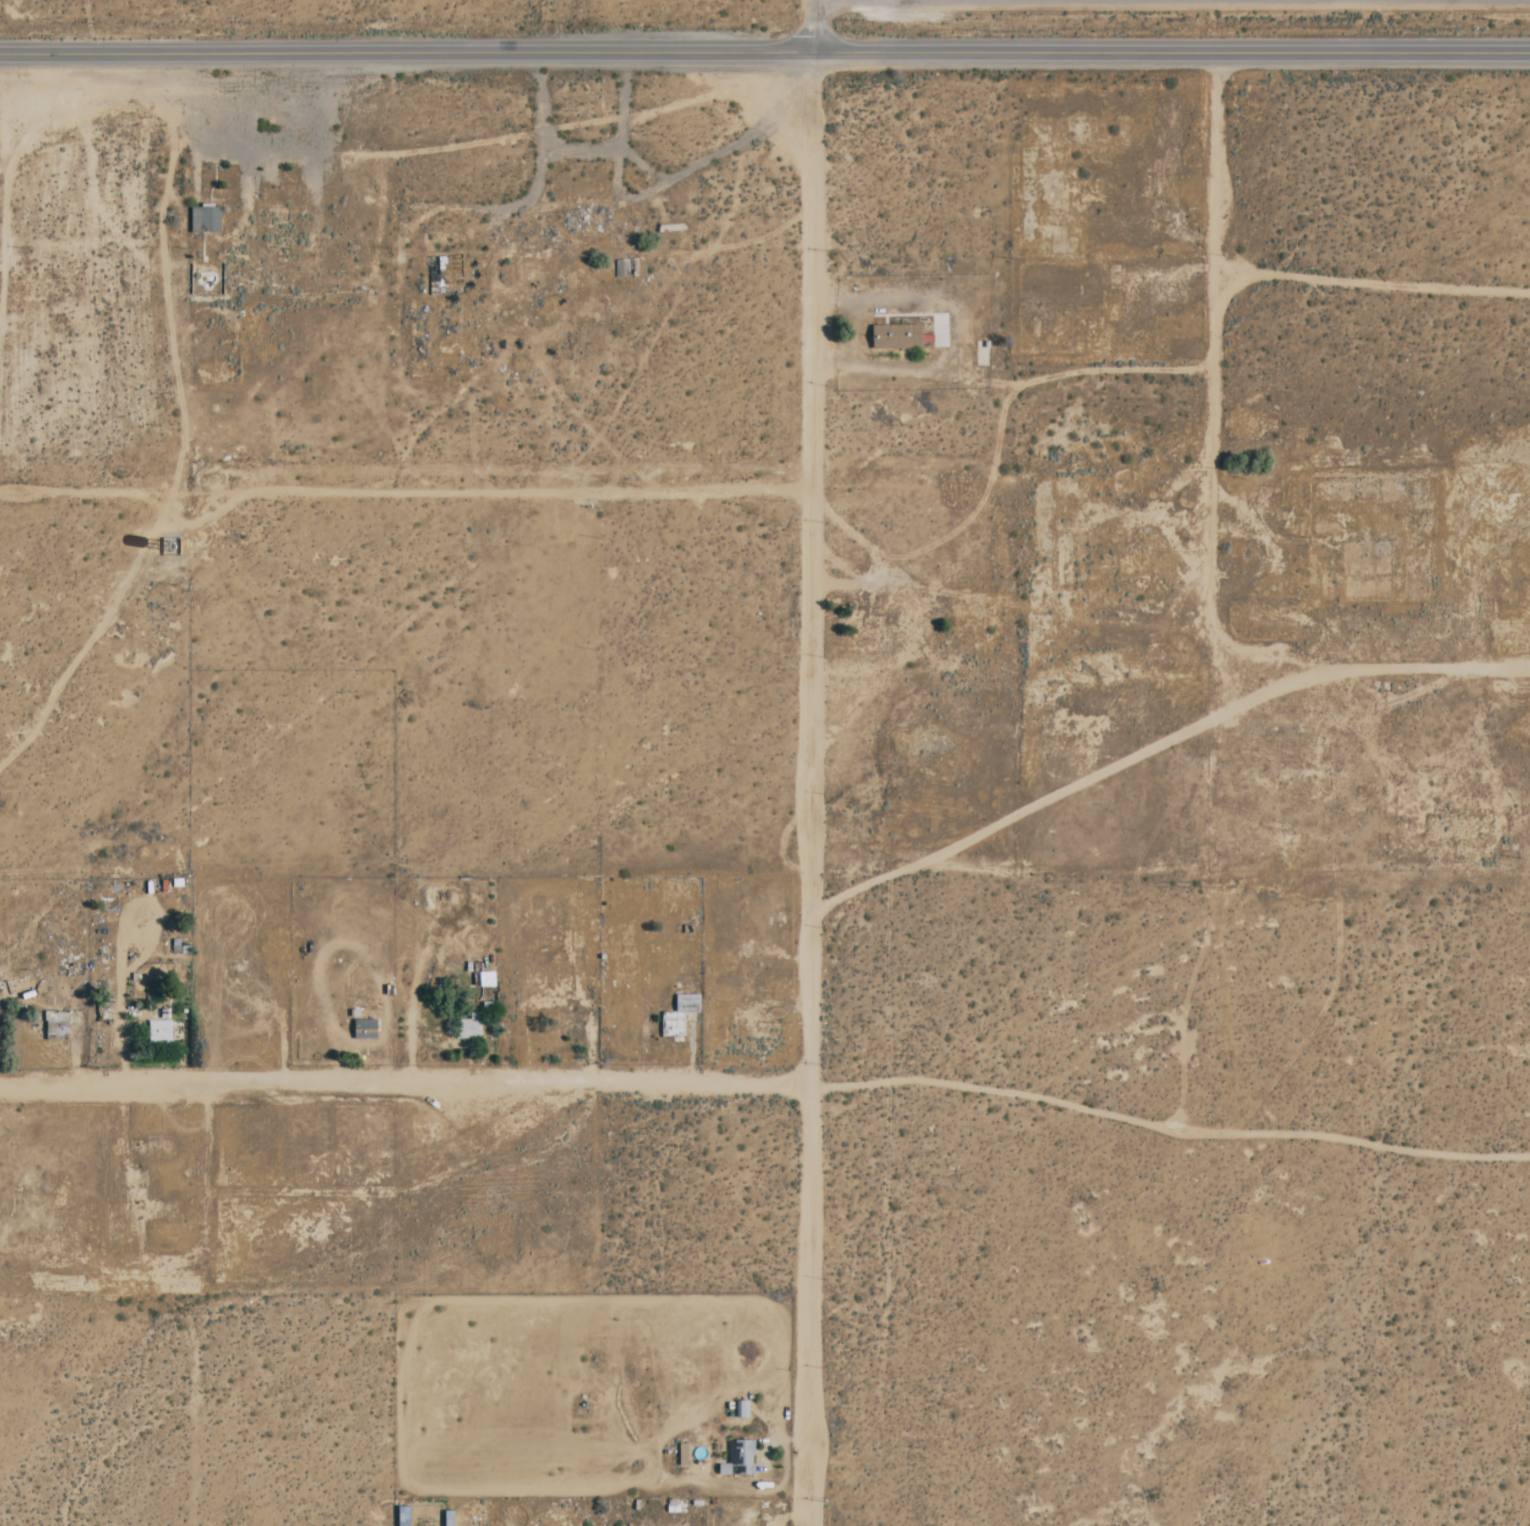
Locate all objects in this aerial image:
road: (813, 25)
road: (764, 51)
building: (207, 221)
road: (1372, 283)
road: (961, 330)
building: (893, 337)
road: (1213, 379)
road: (997, 445)
road: (856, 584)
road: (1158, 744)
road: (812, 788)
road: (417, 1004)
road: (125, 1021)
building: (466, 1028)
building: (362, 1030)
building: (161, 1034)
road: (405, 1085)
building: (737, 1460)
road: (789, 1517)

